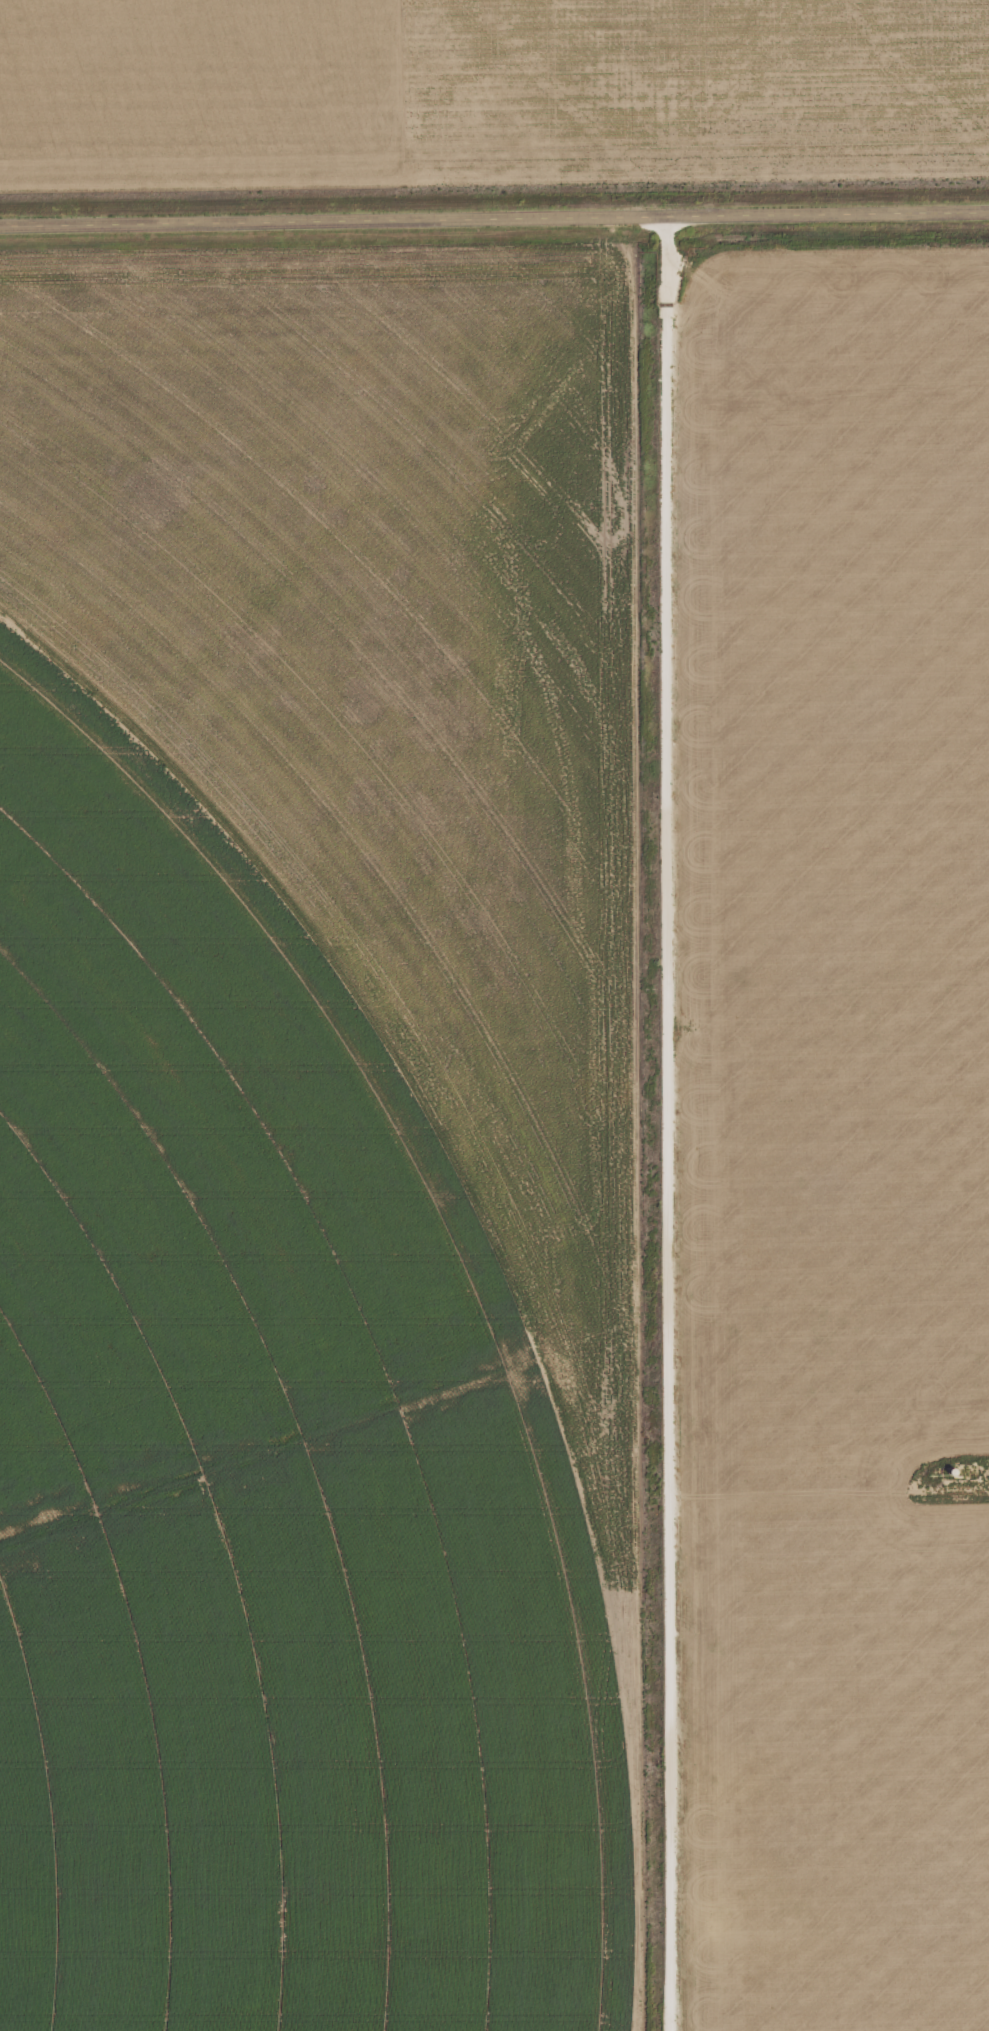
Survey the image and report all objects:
road: (494, 223)
road: (671, 1125)

